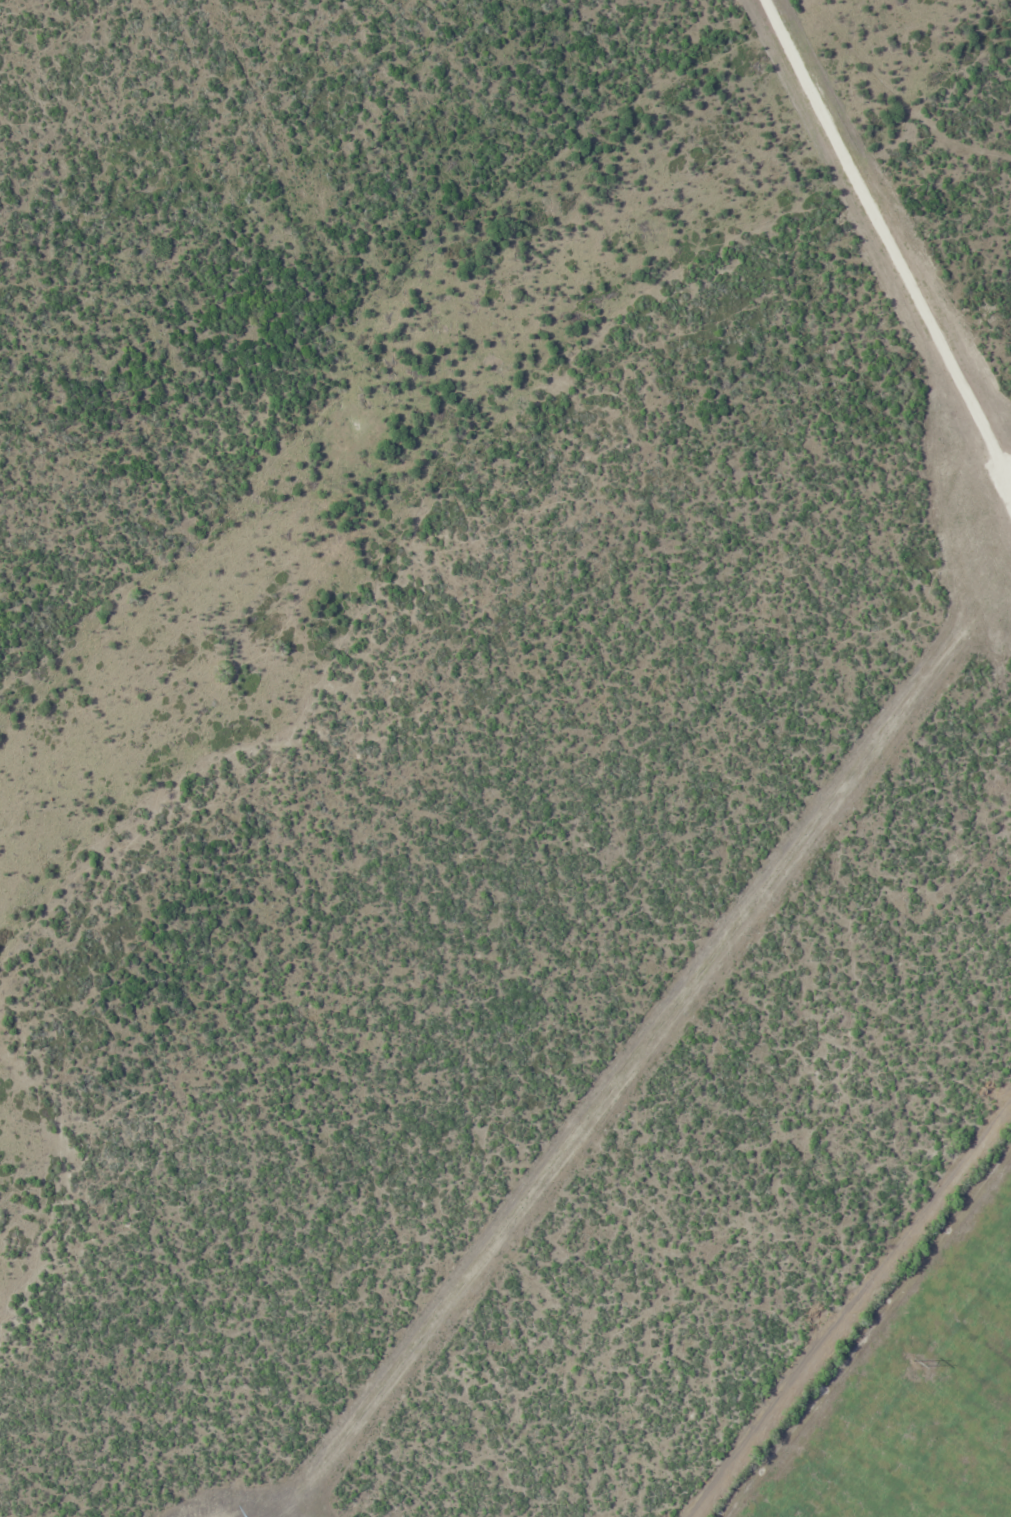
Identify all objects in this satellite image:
power tower: (918, 1361)

